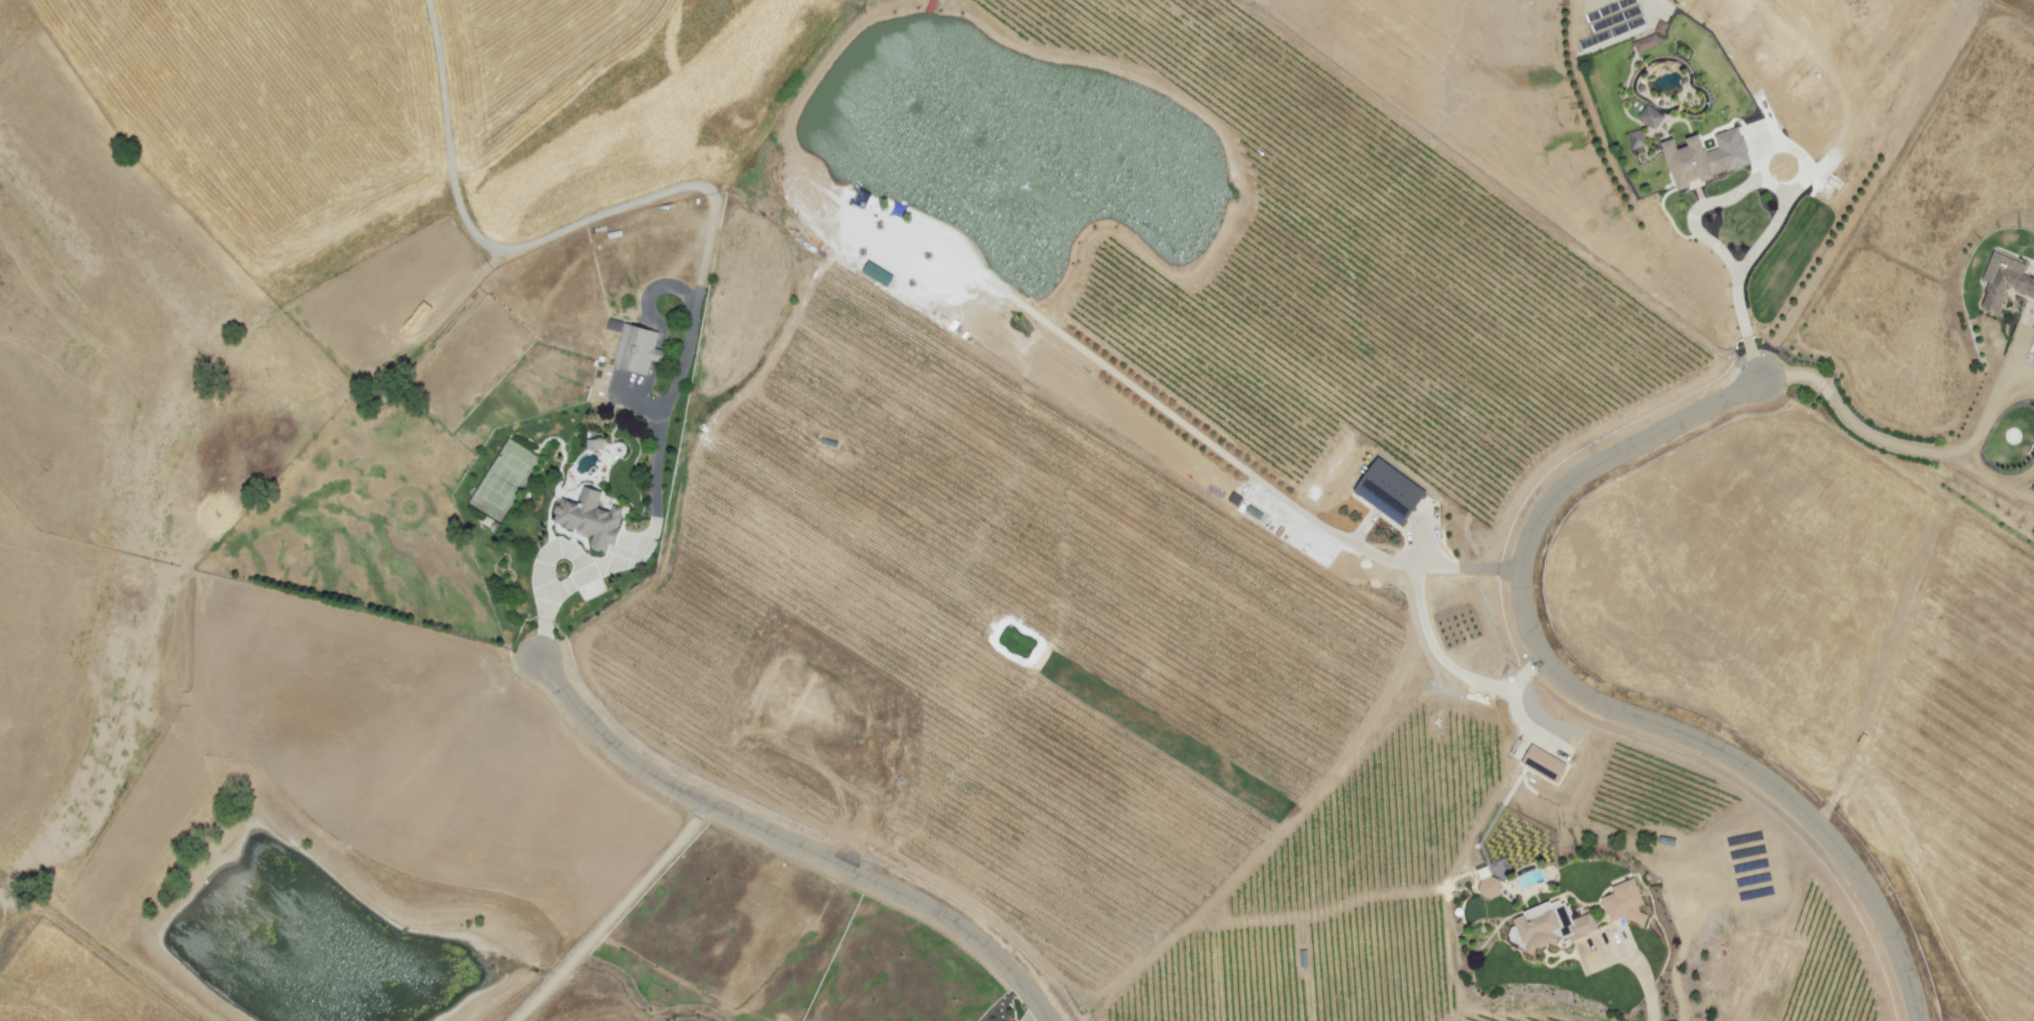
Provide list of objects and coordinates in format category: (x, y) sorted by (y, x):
building: (1649, 116)
building: (1635, 139)
building: (1704, 158)
road: (1782, 205)
building: (2004, 280)
building: (634, 347)
road: (1990, 402)
road: (1851, 423)
building: (594, 444)
road: (1995, 480)
building: (1388, 491)
building: (589, 519)
road: (646, 535)
building: (583, 567)
road: (1474, 567)
road: (1447, 663)
road: (1596, 705)
building: (1542, 763)
road: (795, 845)
building: (1488, 888)
building: (1623, 903)
road: (612, 913)
building: (1548, 926)
road: (1646, 984)
road: (1037, 1018)

